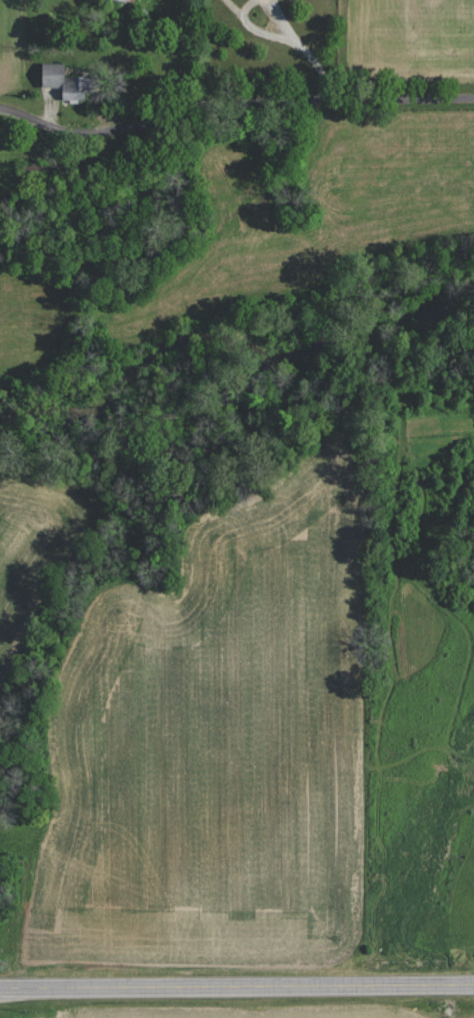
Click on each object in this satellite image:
building: (129, 0)
building: (67, 80)
road: (233, 102)
road: (237, 987)

